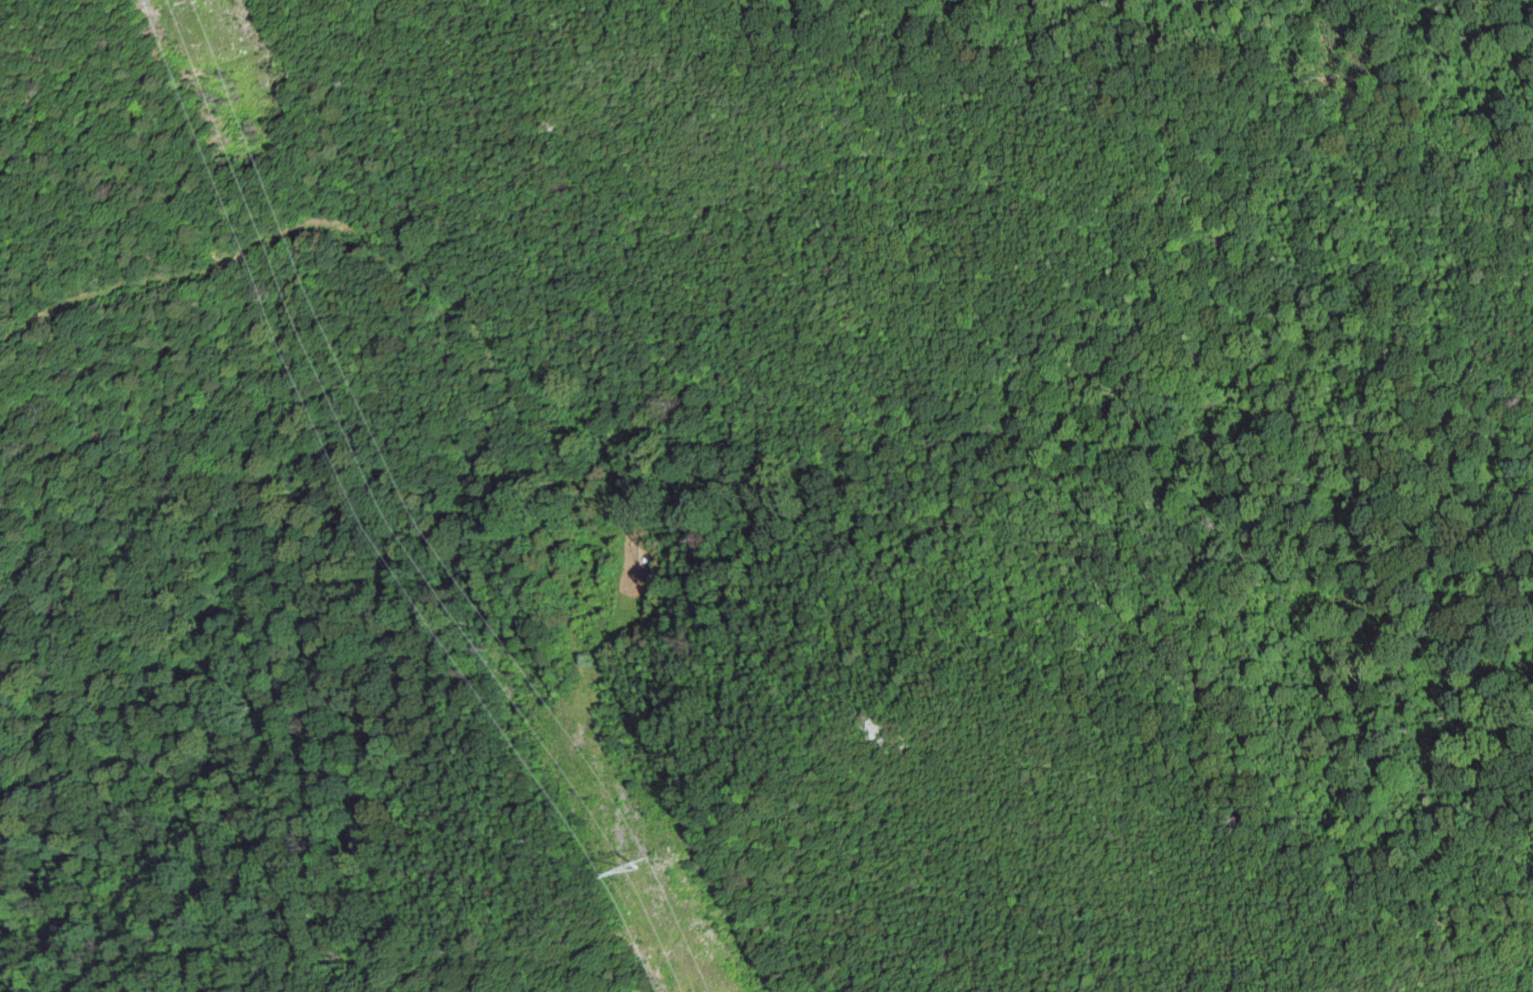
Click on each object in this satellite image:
road: (1096, 97)

